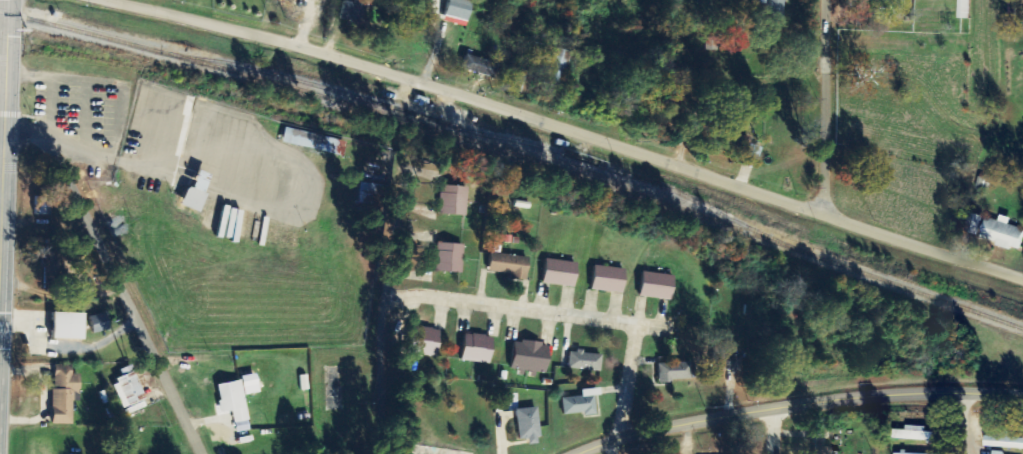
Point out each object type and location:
building: (965, 9)
building: (353, 10)
building: (774, 10)
building: (458, 12)
building: (480, 66)
building: (556, 68)
road: (2, 105)
road: (830, 112)
road: (569, 137)
building: (311, 141)
railway: (515, 155)
building: (368, 195)
building: (453, 200)
building: (43, 206)
road: (423, 222)
building: (976, 225)
building: (1004, 233)
building: (449, 257)
building: (509, 265)
building: (53, 269)
building: (560, 272)
road: (115, 274)
building: (608, 279)
building: (657, 285)
road: (579, 318)
building: (100, 322)
building: (69, 325)
building: (426, 341)
building: (478, 348)
building: (724, 353)
building: (530, 356)
building: (585, 361)
building: (674, 371)
road: (409, 377)
building: (250, 380)
building: (128, 389)
building: (64, 393)
building: (234, 403)
building: (581, 403)
road: (794, 405)
building: (528, 425)
road: (973, 425)
road: (780, 430)
building: (919, 435)
building: (1005, 443)
building: (823, 450)
building: (999, 453)

